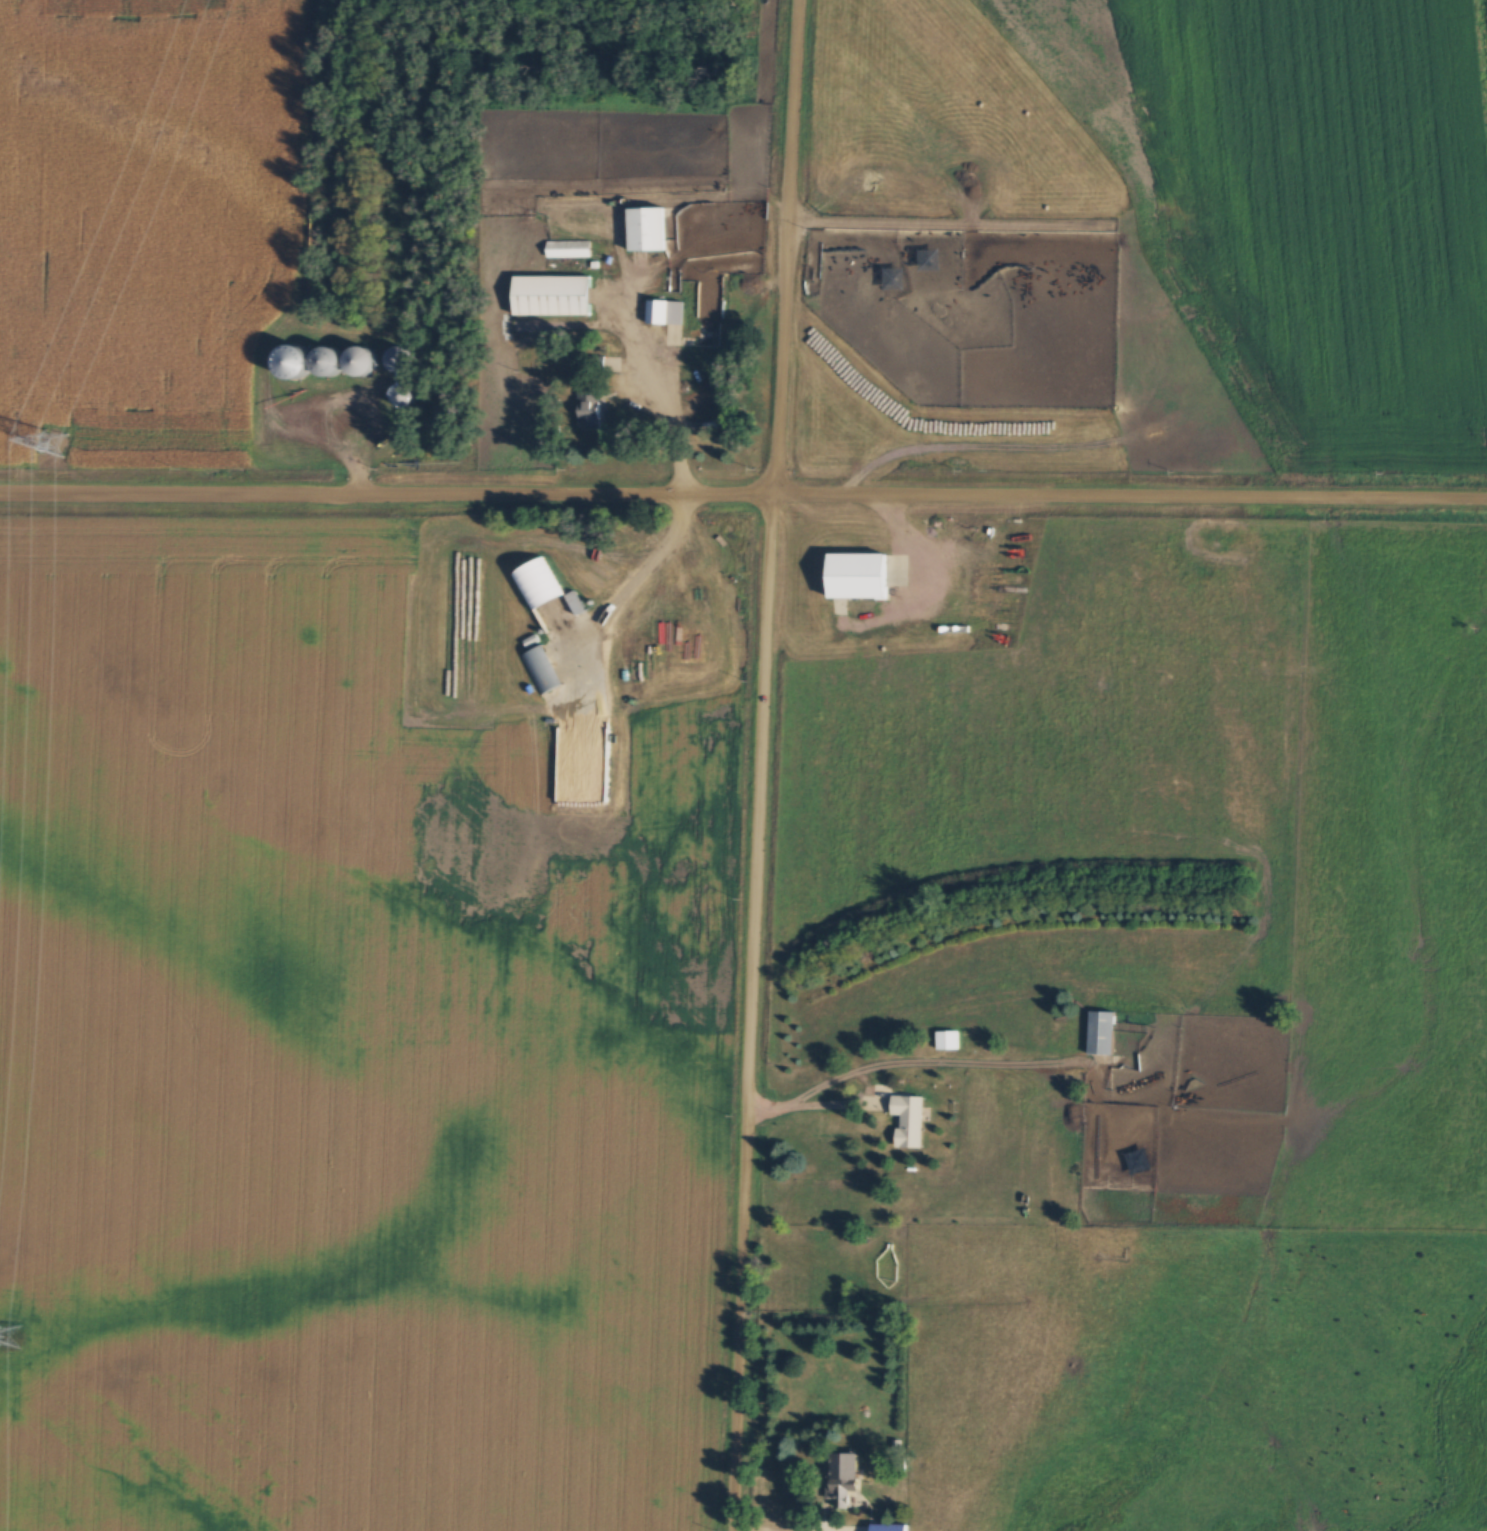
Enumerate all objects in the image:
power tower: (52, 448)
road: (743, 497)
road: (762, 764)
road: (855, 1102)
power tower: (6, 1338)
road: (738, 1530)

